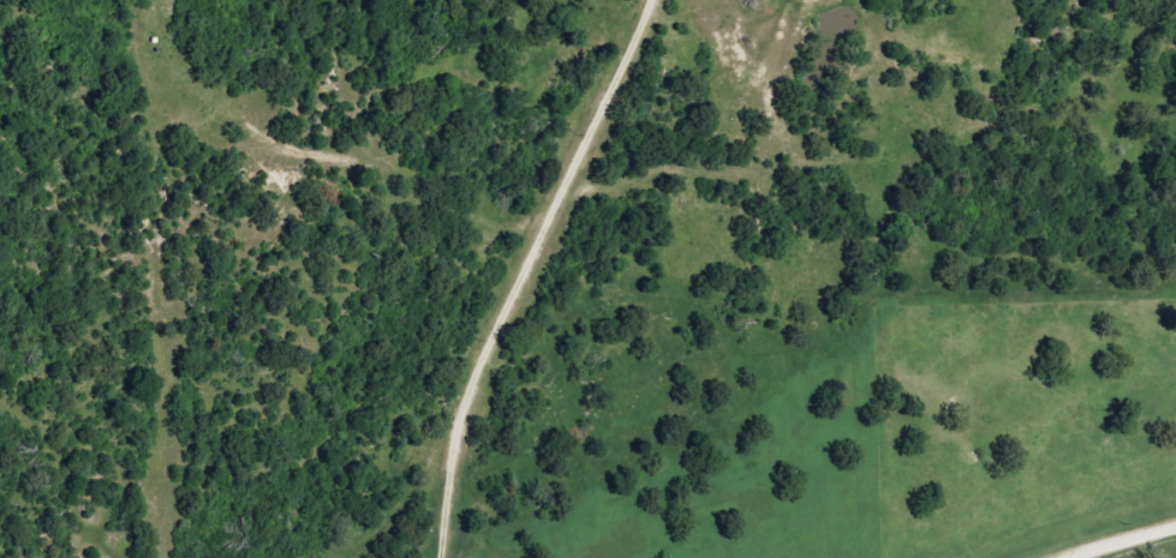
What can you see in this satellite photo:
road: (517, 272)
road: (1129, 541)

